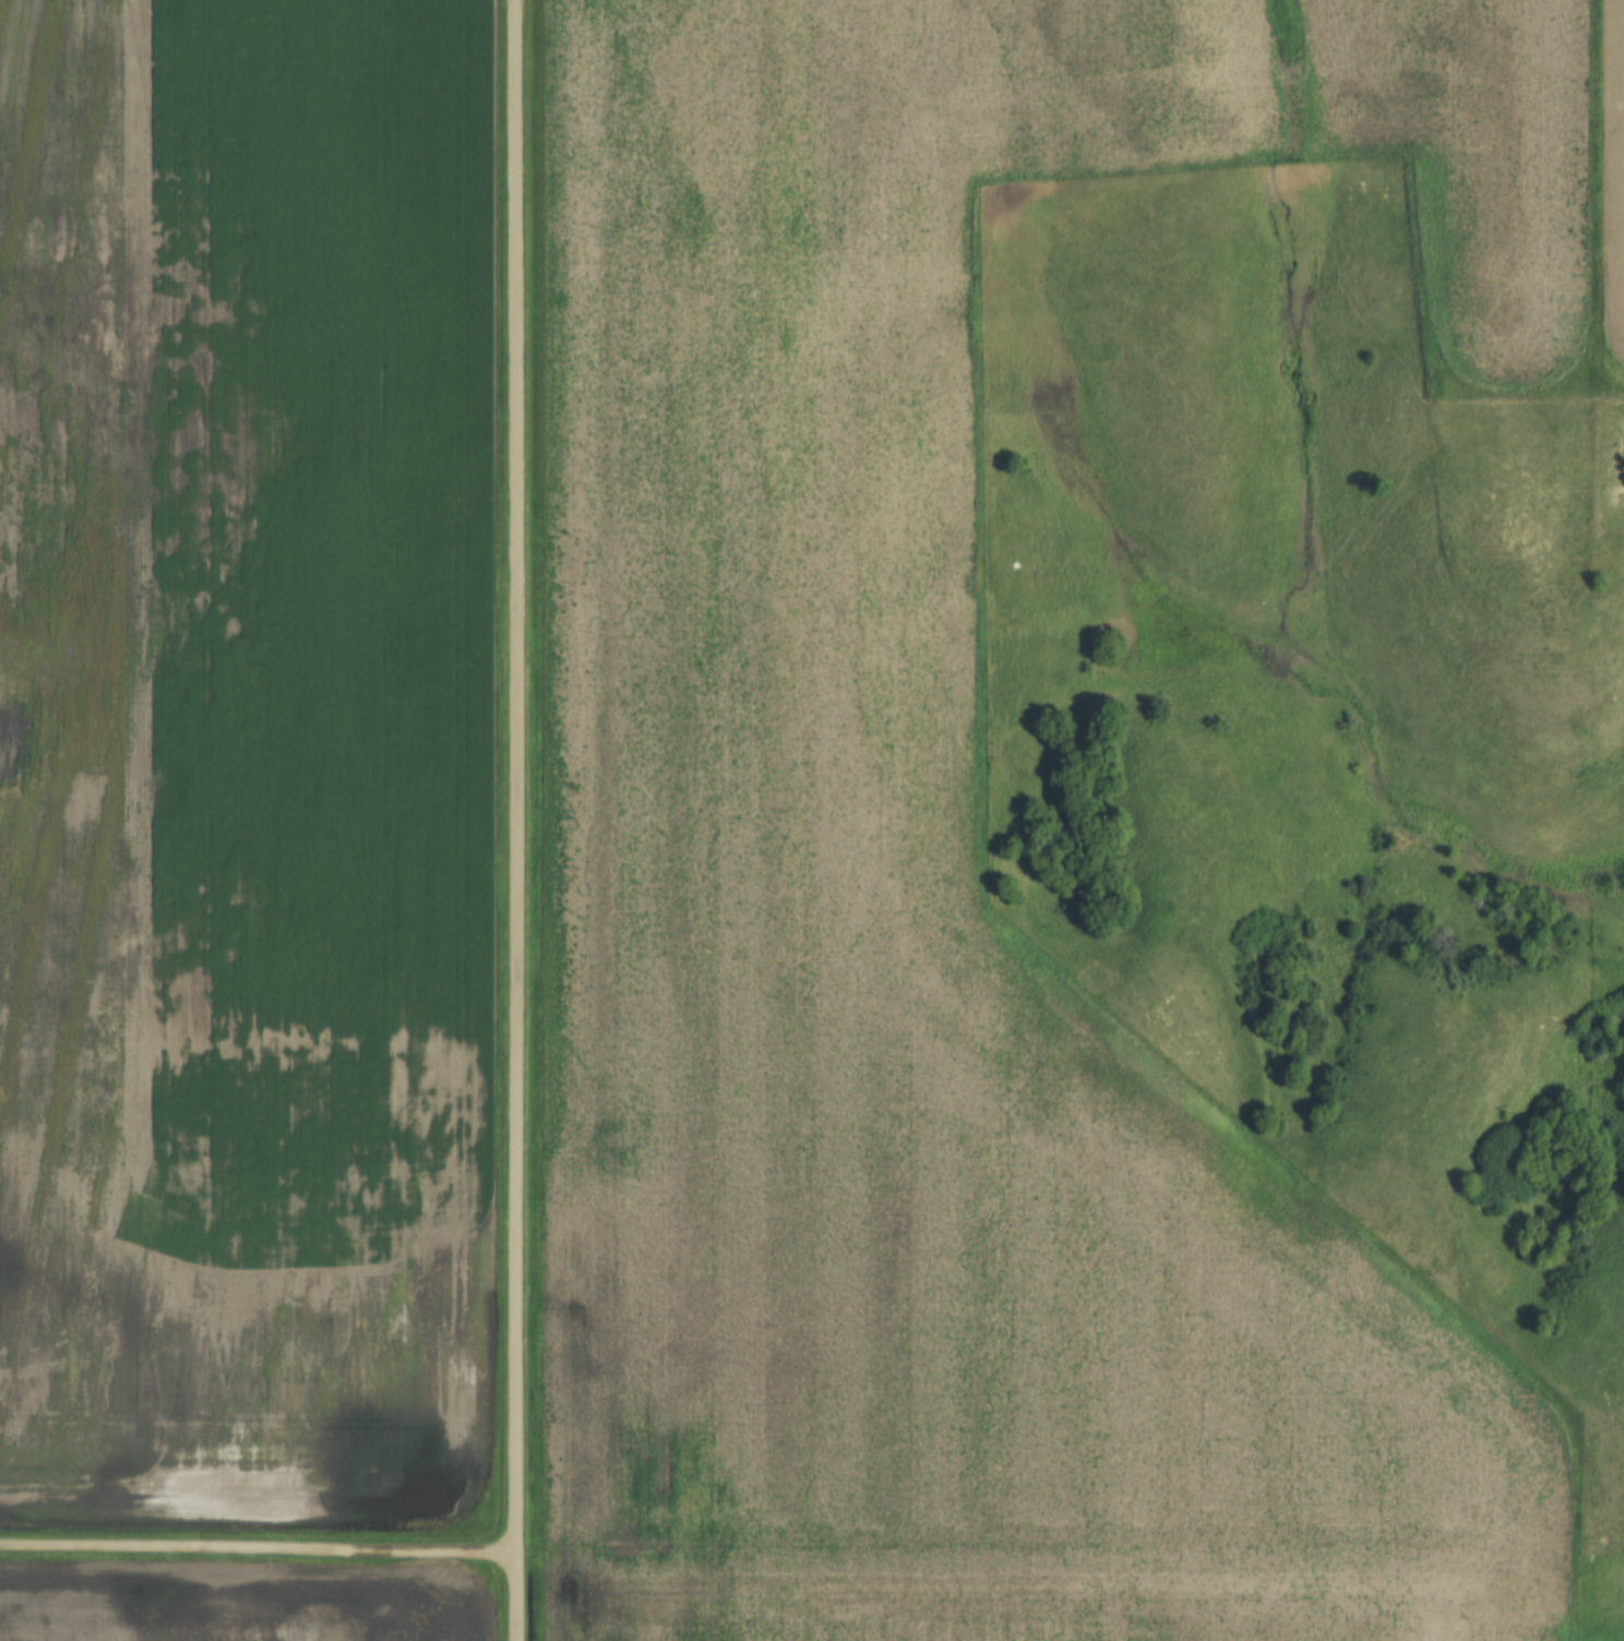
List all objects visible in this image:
road: (520, 819)
road: (259, 1549)

